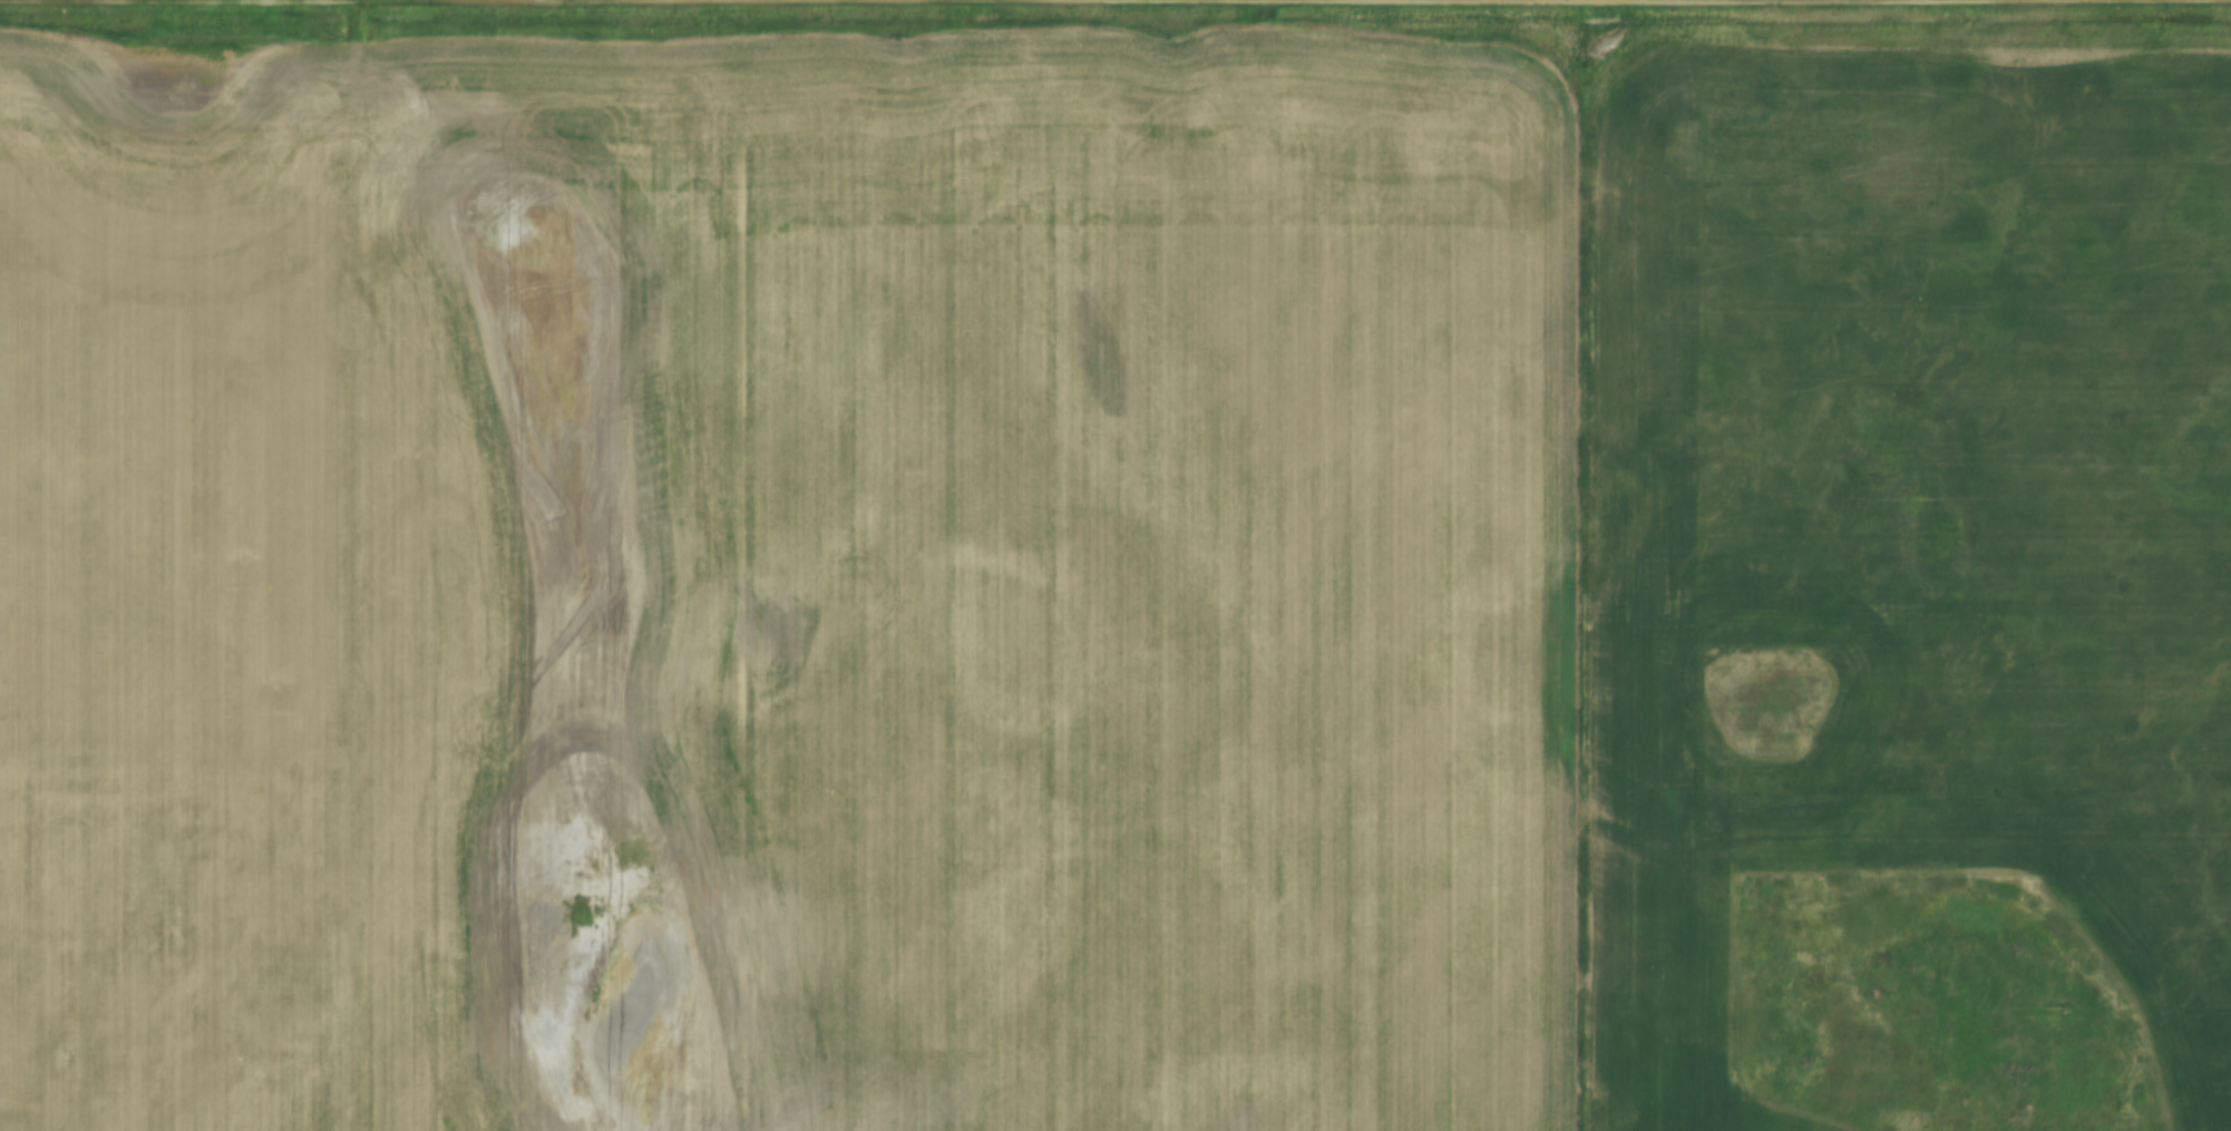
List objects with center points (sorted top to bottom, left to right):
road: (249, 1)

